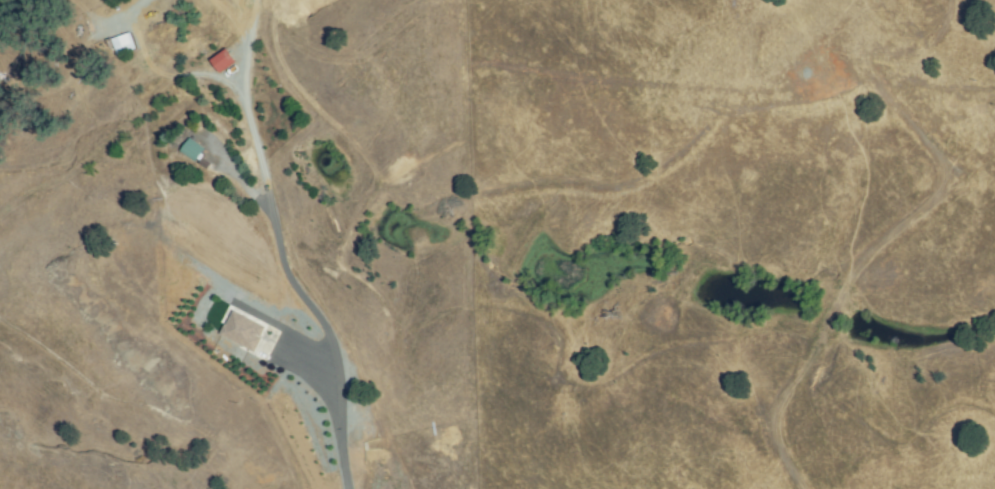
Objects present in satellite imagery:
building: (194, 150)
road: (278, 250)
building: (239, 330)

